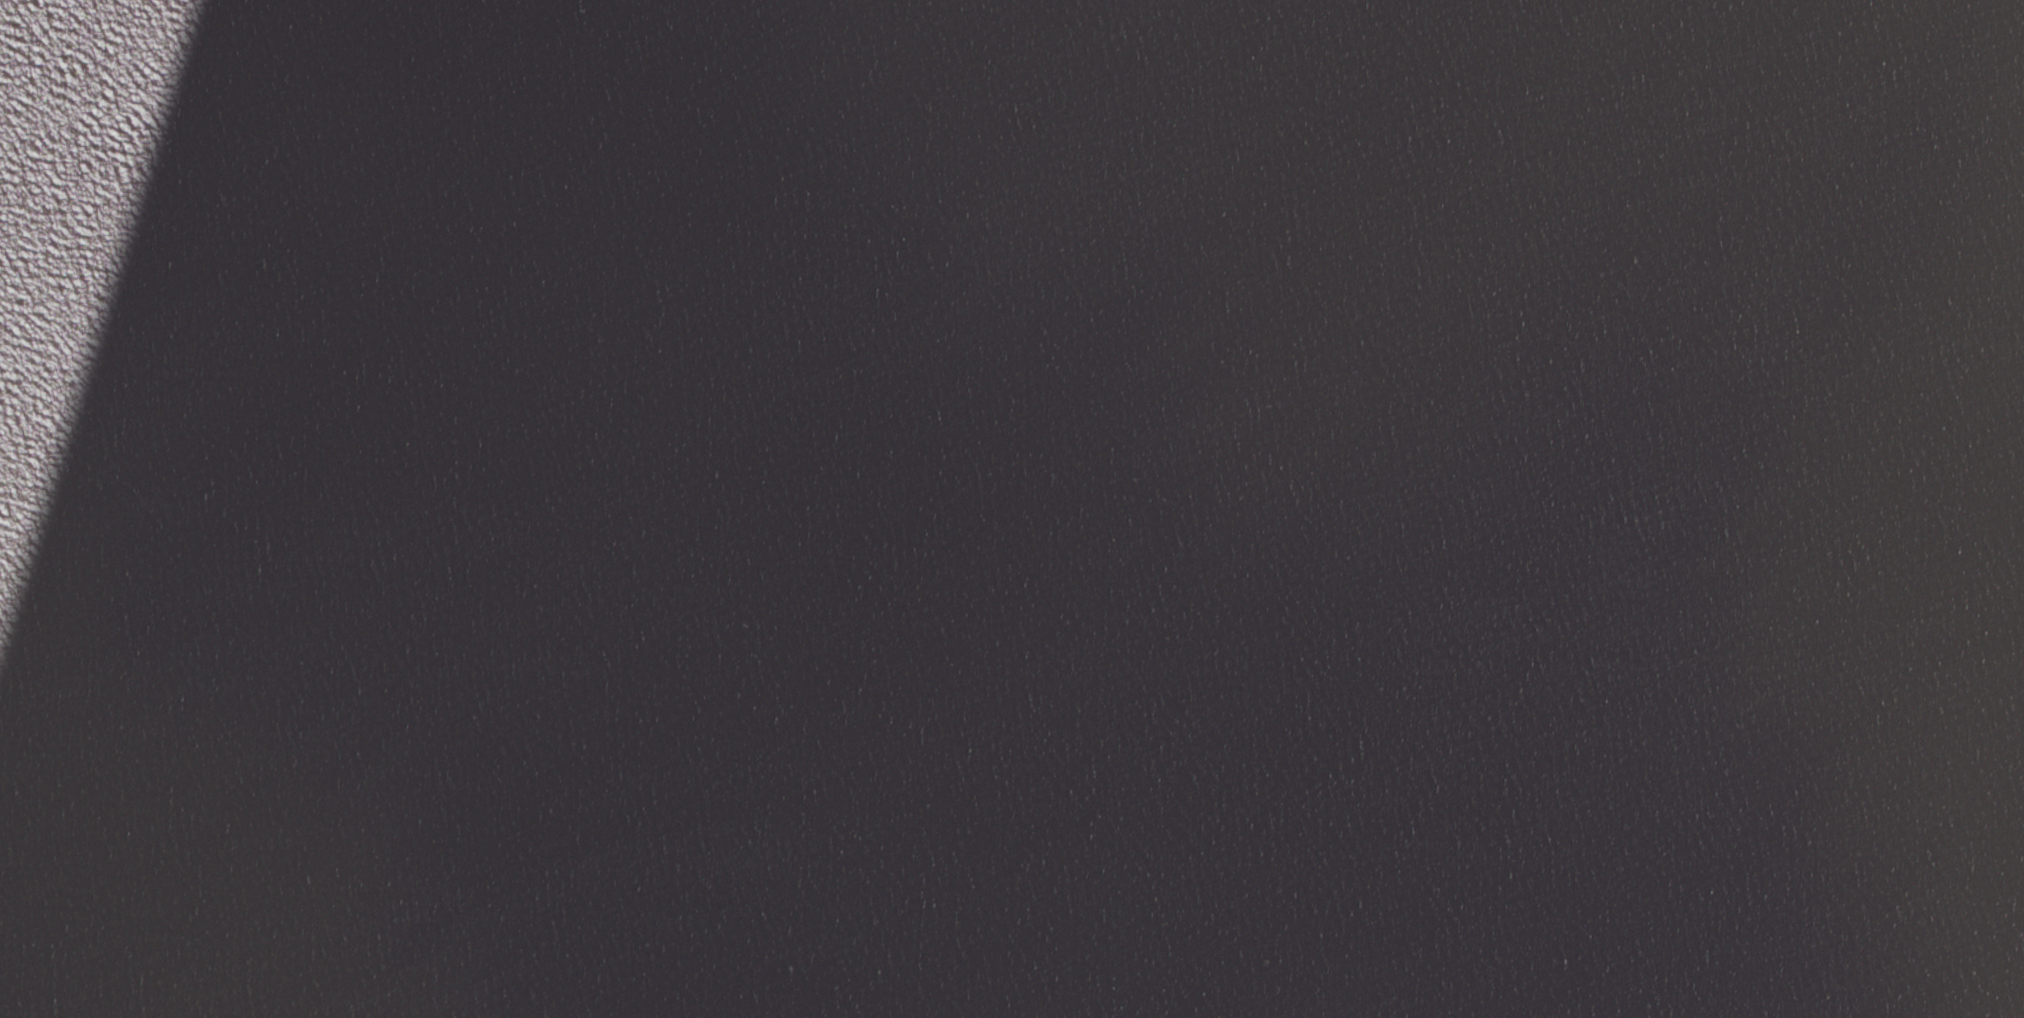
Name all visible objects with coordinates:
river: (1267, 428)

